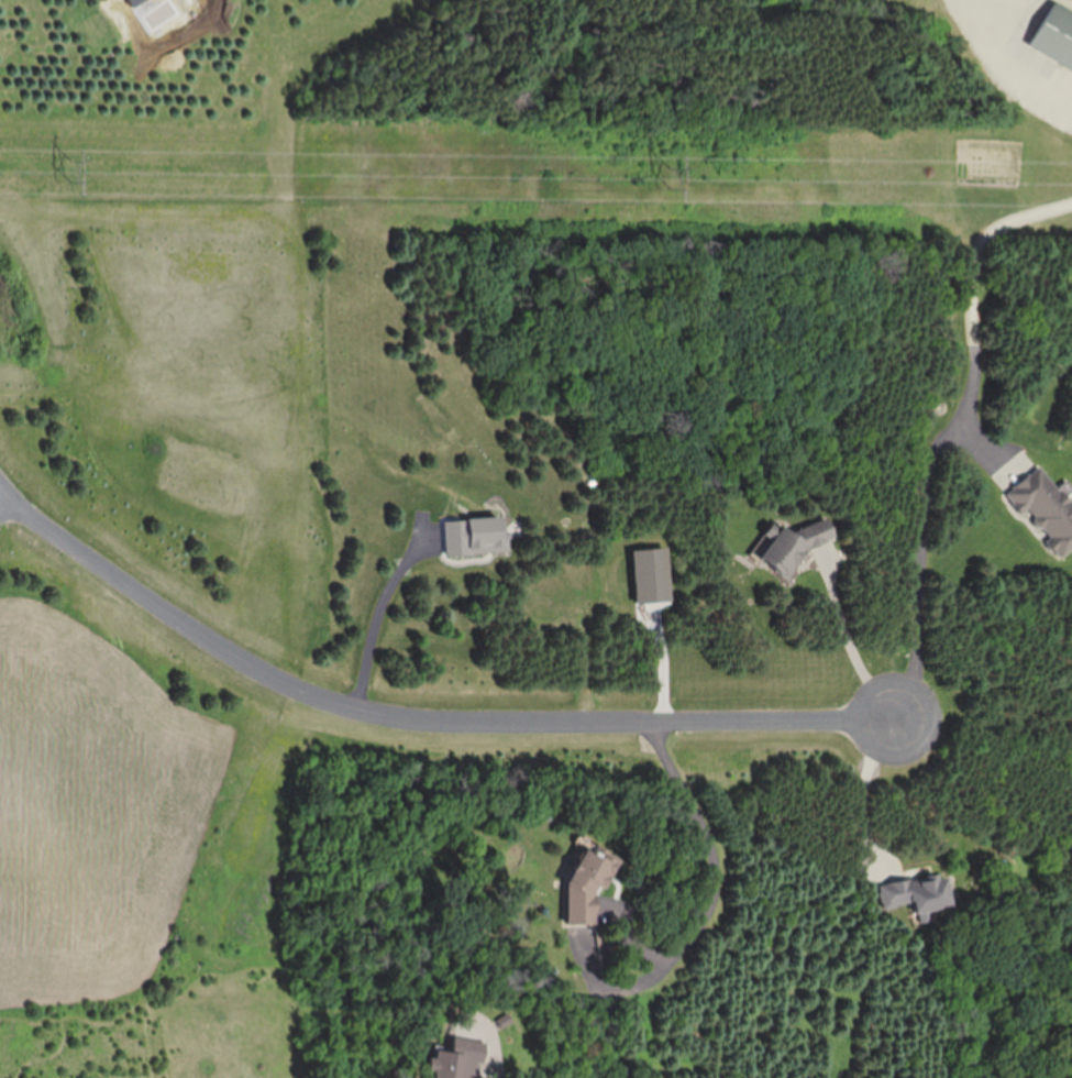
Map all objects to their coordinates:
building: (1056, 37)
road: (1023, 56)
power tower: (674, 178)
power tower: (75, 179)
road: (942, 421)
road: (2, 497)
building: (1047, 508)
building: (797, 544)
road: (368, 618)
road: (852, 641)
road: (416, 716)
road: (862, 780)
building: (587, 884)
road: (714, 889)
building: (920, 893)
building: (458, 1058)

